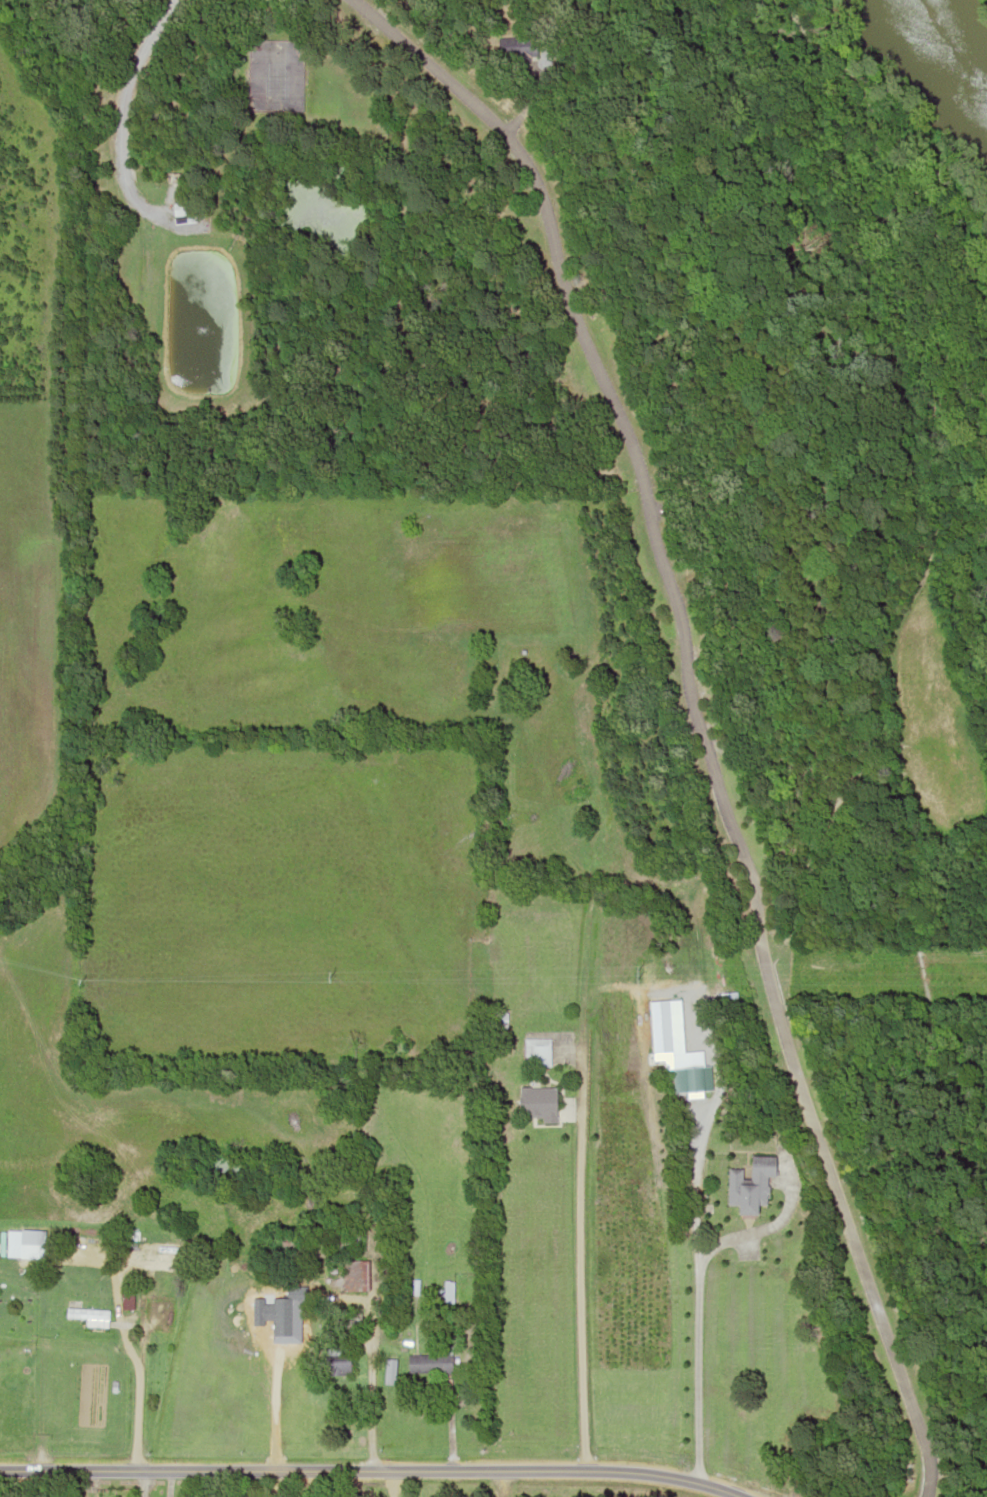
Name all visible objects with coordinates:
building: (518, 45)
road: (118, 123)
building: (180, 208)
road: (695, 715)
building: (536, 1052)
building: (697, 1077)
building: (538, 1103)
building: (750, 1183)
building: (133, 1240)
building: (346, 1243)
road: (576, 1246)
building: (288, 1249)
building: (354, 1275)
building: (447, 1291)
road: (696, 1292)
building: (89, 1316)
building: (337, 1361)
building: (429, 1363)
road: (370, 1391)
road: (136, 1400)
road: (366, 1470)
road: (140, 1483)
road: (389, 1483)

